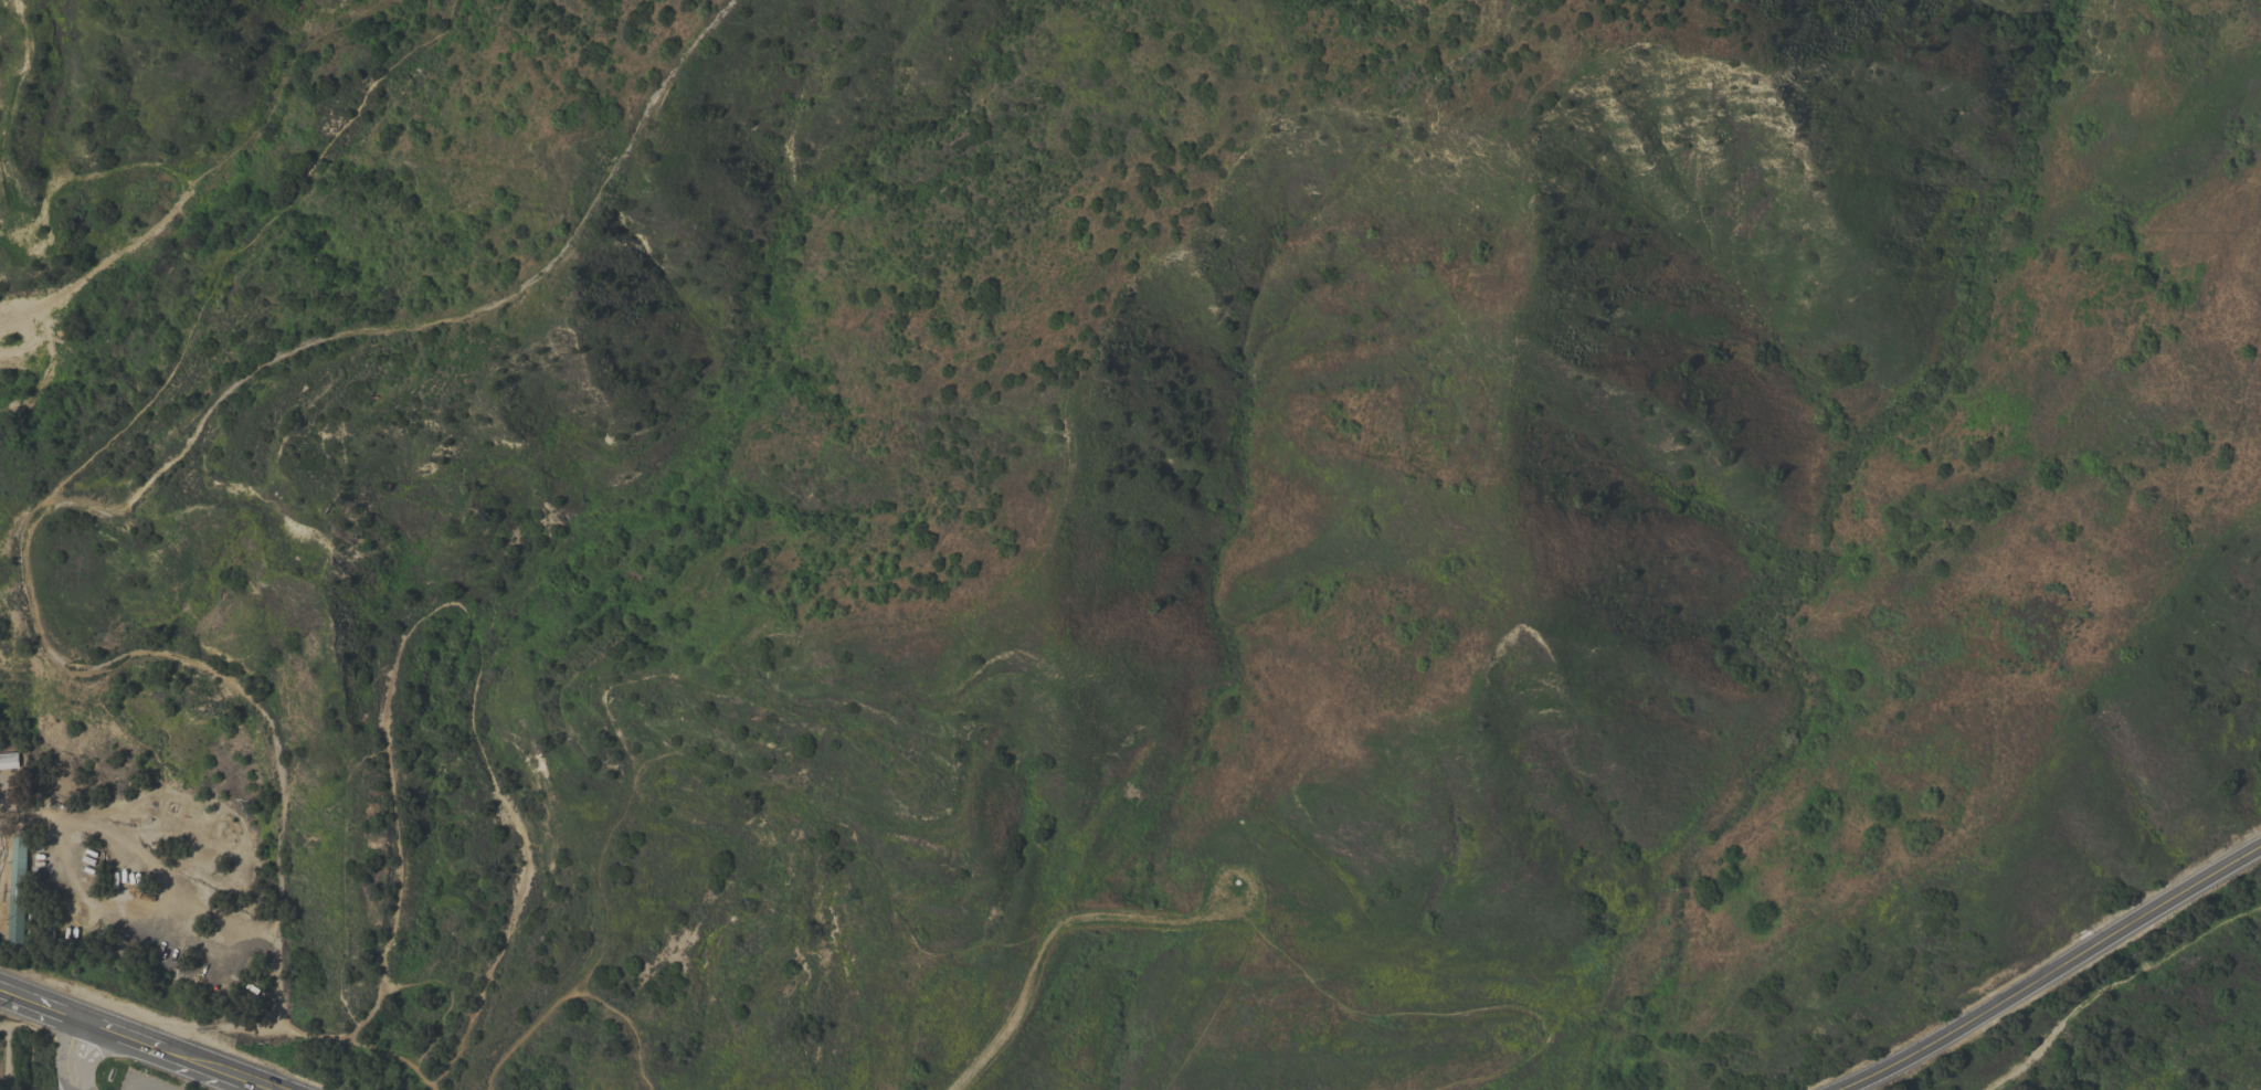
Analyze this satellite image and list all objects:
road: (85, 515)
road: (2053, 973)
road: (2113, 983)
road: (1, 1027)
road: (145, 1036)
road: (29, 1045)
road: (66, 1049)
road: (4, 1058)
park: (59, 1068)
parking lot: (77, 1083)
parking lot: (127, 1086)
road: (70, 1088)
road: (137, 1088)

